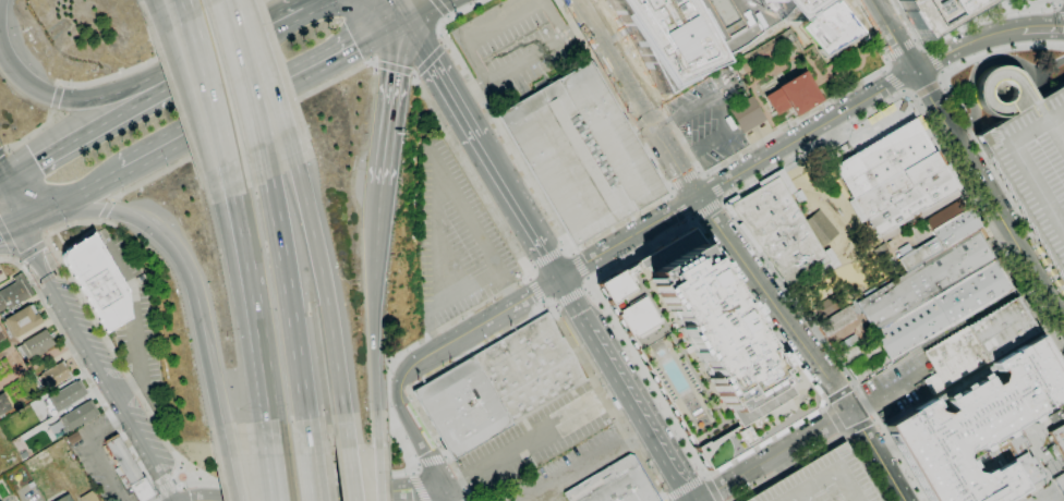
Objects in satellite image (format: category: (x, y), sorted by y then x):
road: (267, 0)
road: (1056, 2)
road: (155, 4)
road: (1061, 4)
road: (318, 5)
road: (984, 8)
road: (396, 9)
road: (419, 9)
road: (439, 9)
road: (1061, 10)
road: (1005, 13)
building: (935, 14)
traffic signals: (400, 17)
road: (293, 19)
road: (553, 19)
road: (1042, 26)
building: (831, 27)
building: (691, 30)
road: (470, 33)
road: (893, 35)
road: (938, 37)
road: (251, 39)
road: (914, 39)
road: (966, 42)
parking lot: (516, 45)
road: (924, 47)
road: (738, 49)
road: (898, 49)
road: (997, 49)
road: (167, 54)
road: (884, 59)
road: (431, 60)
road: (932, 60)
road: (523, 62)
road: (394, 68)
road: (975, 69)
road: (882, 70)
road: (941, 72)
road: (267, 76)
road: (1047, 76)
road: (443, 78)
road: (892, 80)
road: (940, 82)
road: (245, 83)
road: (926, 88)
road: (211, 89)
road: (1024, 89)
road: (902, 91)
road: (100, 95)
road: (262, 95)
building: (794, 95)
road: (987, 95)
road: (912, 96)
road: (57, 98)
road: (188, 98)
road: (636, 100)
road: (391, 101)
road: (935, 106)
road: (1035, 108)
road: (1052, 110)
road: (1053, 110)
road: (722, 114)
building: (747, 114)
road: (111, 120)
parking lot: (704, 123)
road: (250, 125)
road: (838, 131)
road: (32, 133)
road: (1053, 133)
road: (1052, 137)
road: (994, 145)
building: (580, 151)
road: (982, 151)
road: (2, 152)
road: (738, 152)
building: (1028, 155)
parking lot: (1028, 155)
building: (885, 158)
road: (762, 159)
road: (1024, 169)
road: (1023, 170)
road: (698, 171)
road: (952, 171)
road: (705, 174)
road: (684, 180)
road: (1, 183)
road: (1, 186)
traffic signals: (2, 186)
road: (713, 186)
road: (1002, 186)
road: (669, 187)
road: (90, 188)
building: (907, 194)
road: (668, 195)
road: (722, 198)
road: (837, 203)
road: (680, 207)
road: (705, 207)
road: (96, 208)
road: (108, 208)
road: (462, 208)
road: (519, 210)
road: (854, 211)
road: (40, 215)
road: (993, 218)
road: (690, 219)
road: (1039, 220)
traffic signals: (22, 224)
road: (855, 225)
road: (1027, 227)
building: (819, 229)
road: (11, 230)
building: (778, 231)
road: (843, 232)
road: (1009, 233)
parking lot: (455, 236)
building: (942, 239)
road: (9, 243)
road: (47, 243)
road: (582, 244)
road: (563, 246)
road: (31, 250)
road: (885, 250)
road: (571, 253)
road: (546, 257)
road: (830, 257)
road: (16, 259)
road: (584, 262)
road: (579, 266)
road: (530, 268)
road: (528, 278)
road: (587, 279)
road: (72, 281)
building: (98, 282)
road: (253, 282)
road: (510, 285)
road: (585, 285)
road: (590, 285)
road: (235, 289)
road: (535, 289)
building: (14, 292)
road: (533, 292)
building: (934, 295)
road: (40, 296)
road: (570, 296)
road: (330, 297)
road: (286, 301)
road: (543, 303)
road: (773, 304)
road: (554, 305)
building: (829, 305)
parking lot: (142, 310)
road: (373, 313)
building: (975, 314)
road: (196, 315)
building: (22, 320)
road: (520, 320)
building: (836, 321)
road: (962, 322)
road: (137, 326)
building: (0, 329)
road: (33, 330)
building: (1, 335)
road: (454, 340)
road: (84, 343)
building: (847, 343)
building: (978, 343)
building: (36, 344)
building: (705, 349)
building: (864, 366)
building: (530, 368)
road: (36, 370)
building: (55, 376)
road: (895, 384)
parking lot: (896, 384)
road: (853, 386)
road: (626, 388)
road: (838, 394)
building: (66, 395)
building: (3, 404)
road: (824, 404)
road: (858, 406)
building: (462, 407)
road: (270, 408)
building: (77, 416)
road: (836, 418)
road: (874, 420)
road: (117, 425)
road: (858, 427)
building: (979, 427)
road: (420, 432)
road: (844, 435)
building: (73, 438)
building: (1057, 441)
road: (522, 443)
road: (821, 448)
road: (885, 450)
road: (895, 451)
road: (97, 453)
road: (876, 454)
road: (445, 455)
road: (774, 455)
road: (1033, 456)
parking lot: (97, 459)
road: (431, 460)
road: (579, 462)
road: (1048, 462)
road: (191, 467)
road: (230, 467)
road: (278, 467)
road: (311, 467)
road: (1053, 468)
building: (129, 469)
road: (411, 471)
road: (377, 472)
road: (350, 473)
road: (703, 476)
building: (822, 480)
building: (1060, 482)
road: (239, 484)
building: (613, 484)
road: (165, 485)
road: (418, 487)
road: (684, 489)
road: (710, 489)
road: (156, 490)
road: (368, 494)
road: (450, 494)
building: (88, 497)
building: (64, 499)
road: (206, 500)
road: (664, 500)

